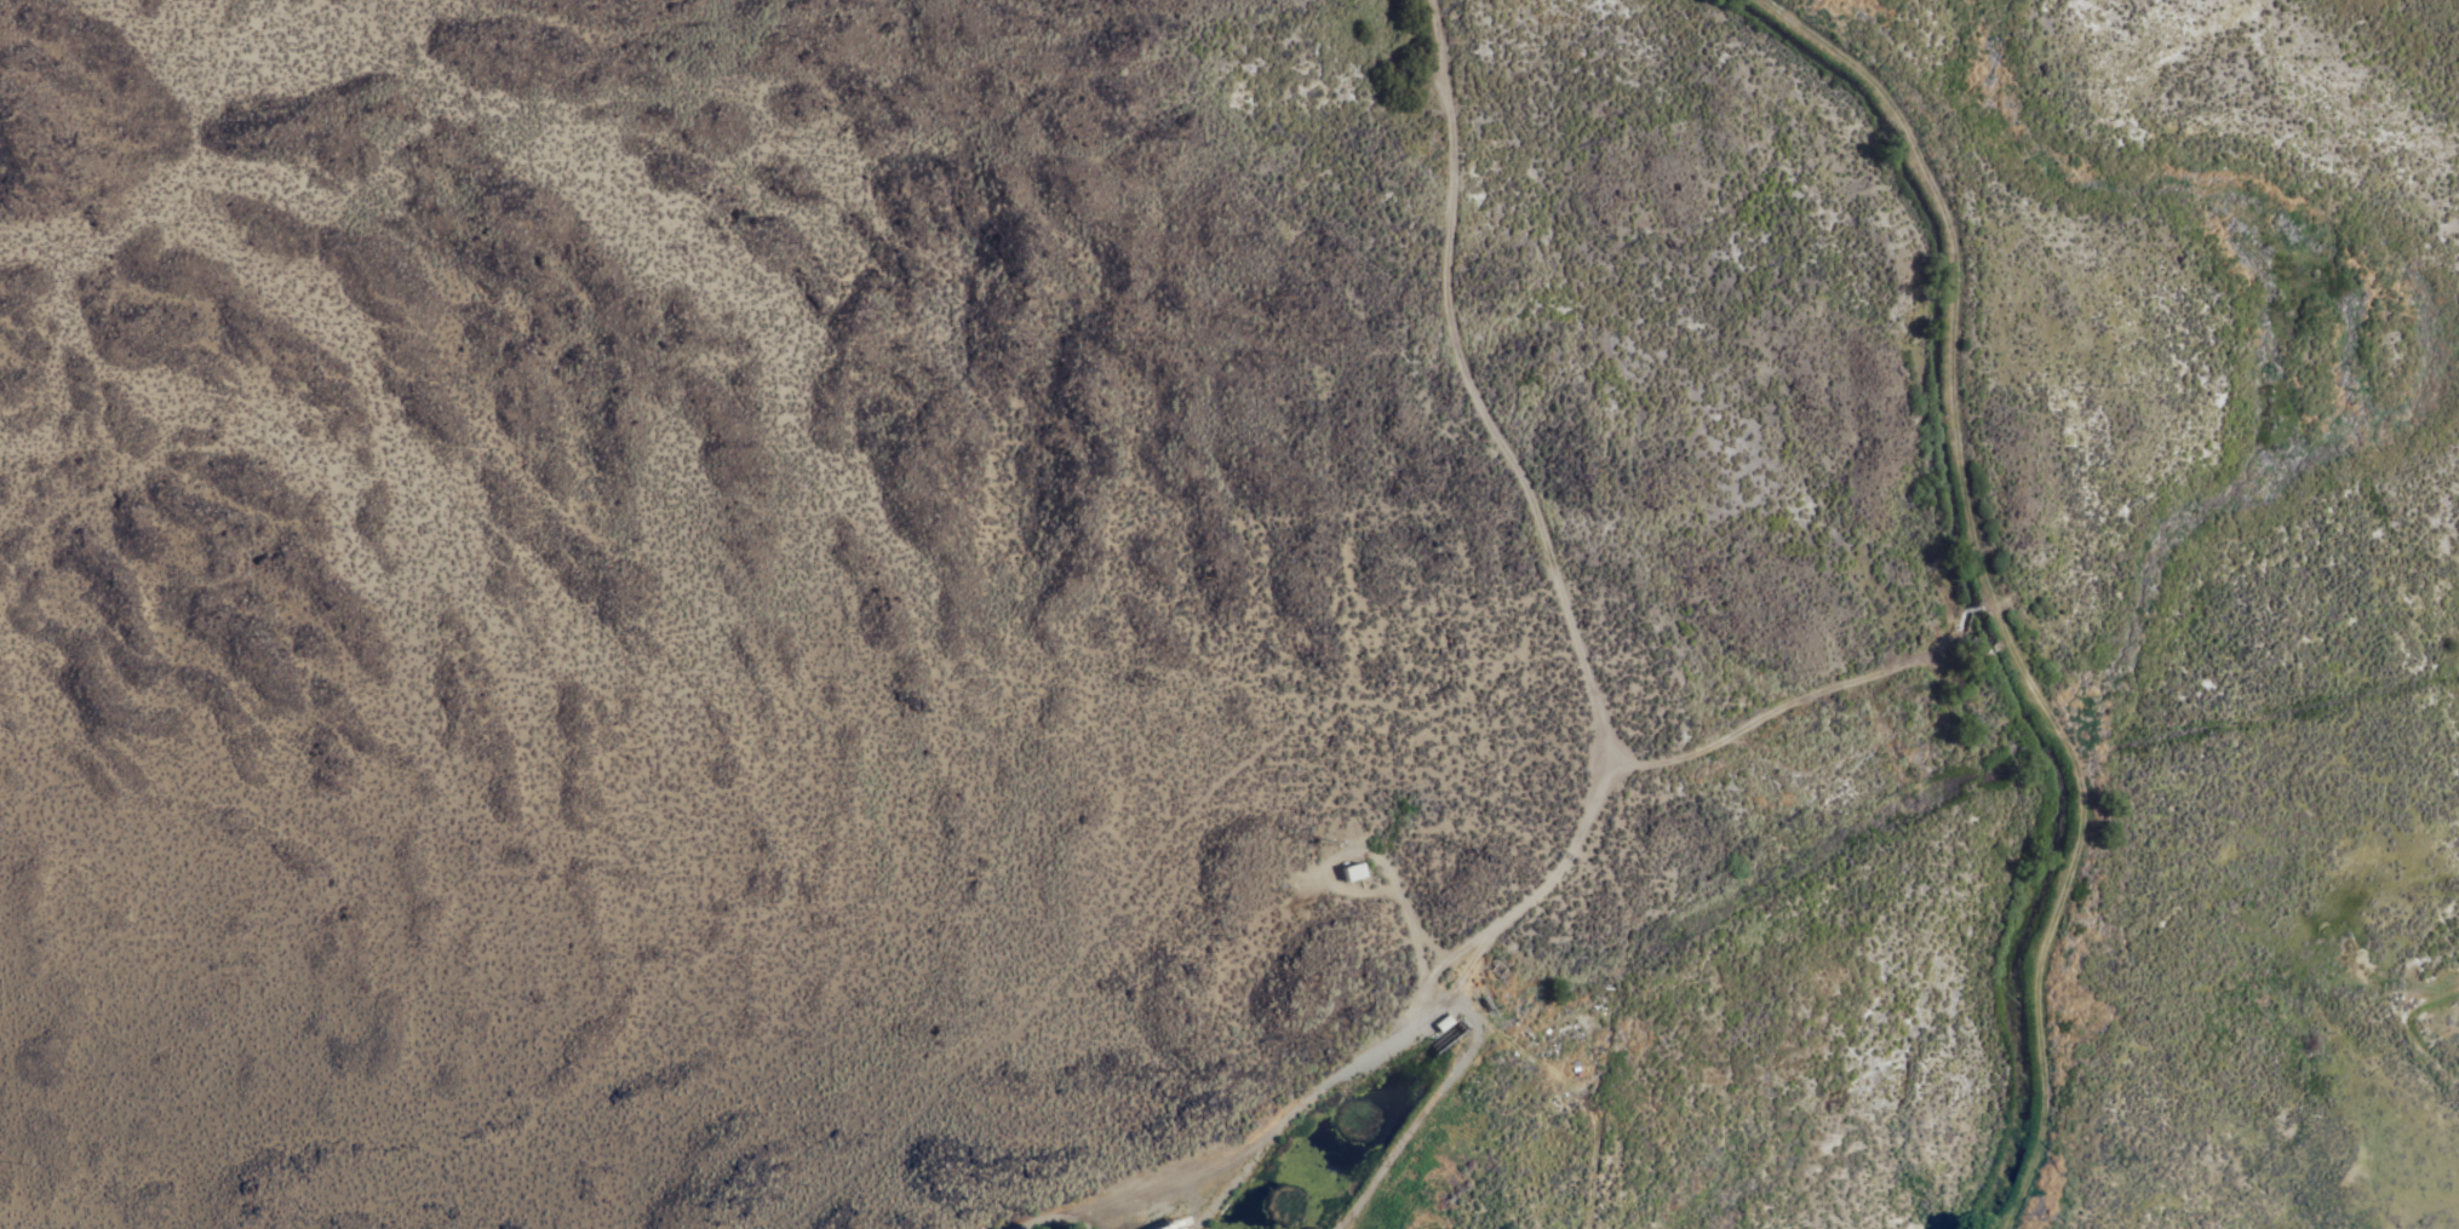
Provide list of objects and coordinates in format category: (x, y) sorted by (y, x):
road: (1595, 745)
building: (1352, 872)
building: (1441, 1023)
aquafarm: (1370, 1142)

